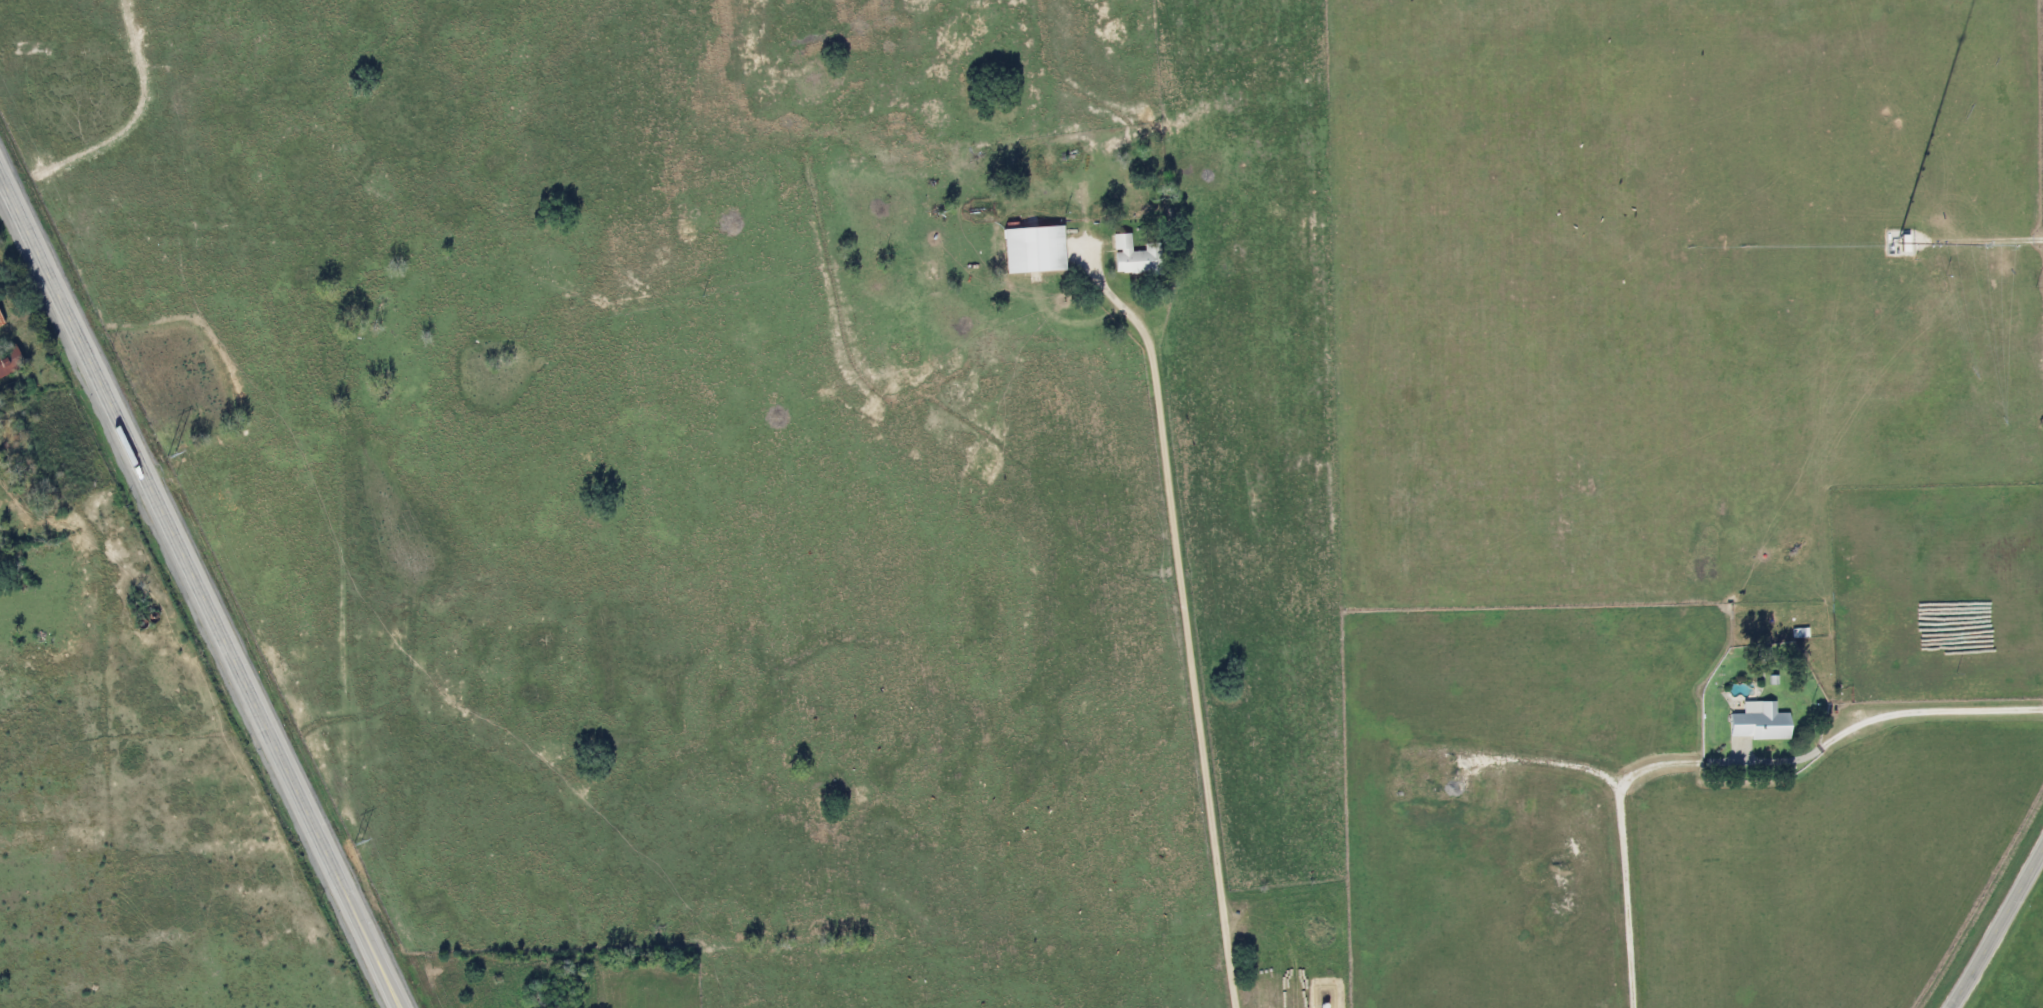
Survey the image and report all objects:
building: (1030, 249)
building: (1128, 256)
road: (29, 317)
building: (0, 324)
building: (7, 359)
power tower: (170, 454)
road: (200, 592)
road: (1182, 620)
building: (1756, 722)
road: (1718, 756)
power tower: (356, 840)
road: (1996, 925)

